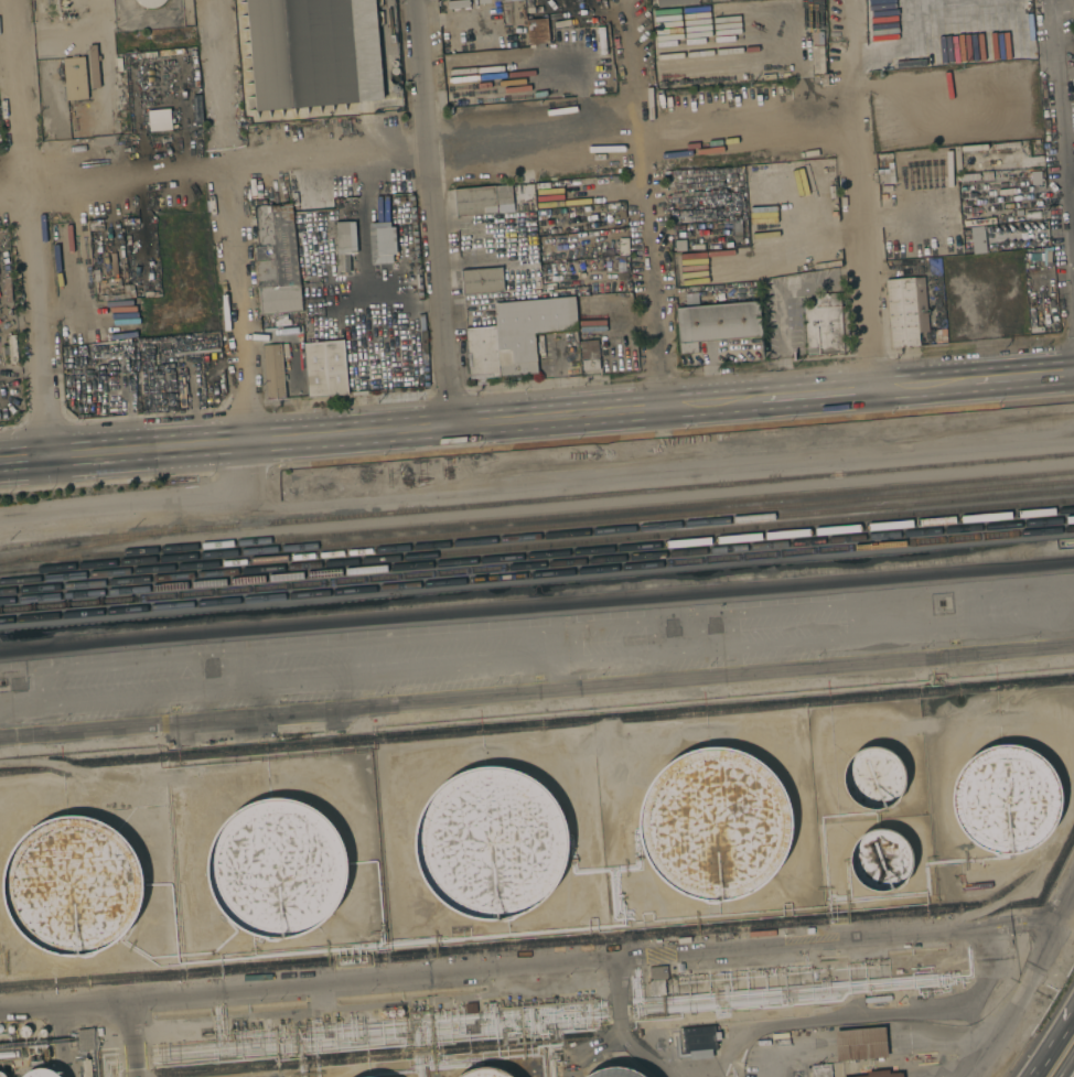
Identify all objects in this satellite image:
building: (150, 3)
building: (535, 9)
building: (1011, 29)
building: (536, 31)
road: (863, 52)
building: (313, 53)
building: (161, 55)
building: (132, 57)
road: (1066, 67)
building: (820, 68)
building: (394, 69)
building: (74, 78)
building: (394, 78)
building: (395, 88)
road: (1063, 111)
building: (160, 120)
road: (429, 149)
building: (969, 151)
building: (1014, 152)
building: (910, 182)
building: (483, 201)
road: (645, 203)
building: (887, 203)
road: (434, 213)
building: (617, 213)
building: (697, 215)
road: (234, 220)
road: (31, 227)
building: (739, 229)
building: (754, 231)
building: (343, 236)
building: (977, 240)
building: (380, 243)
building: (679, 245)
road: (868, 245)
building: (1031, 254)
building: (621, 256)
building: (1048, 258)
building: (277, 260)
building: (96, 274)
building: (482, 281)
road: (385, 291)
building: (906, 310)
building: (716, 323)
building: (825, 325)
building: (523, 334)
building: (12, 348)
building: (110, 349)
building: (589, 355)
building: (324, 364)
building: (275, 370)
road: (1019, 374)
road: (921, 383)
road: (815, 391)
building: (182, 392)
road: (376, 432)
railway: (536, 500)
road: (142, 503)
railway: (536, 518)
railway: (537, 527)
railway: (537, 537)
railway: (86, 546)
railway: (537, 547)
railway: (537, 556)
railway: (537, 564)
railway: (537, 574)
road: (536, 604)
road: (536, 691)
building: (873, 778)
storage tank: (873, 778)
building: (1005, 799)
storage tank: (1005, 799)
building: (713, 825)
storage tank: (713, 825)
building: (491, 843)
storage tank: (491, 843)
building: (880, 860)
storage tank: (880, 860)
building: (277, 869)
storage tank: (277, 869)
building: (72, 886)
storage tank: (72, 886)
building: (809, 930)
building: (762, 934)
road: (836, 943)
building: (915, 946)
building: (898, 971)
road: (375, 980)
building: (657, 980)
road: (1027, 983)
building: (470, 1009)
building: (399, 1012)
storage tank: (399, 1012)
building: (382, 1013)
storage tank: (382, 1013)
building: (390, 1013)
storage tank: (390, 1013)
building: (24, 1031)
storage tank: (24, 1031)
building: (42, 1032)
storage tank: (42, 1032)
building: (8, 1033)
building: (638, 1033)
road: (130, 1037)
building: (85, 1040)
building: (700, 1042)
building: (860, 1044)
road: (1054, 1044)
road: (1066, 1066)
building: (86, 1068)
building: (820, 1070)
building: (41, 1073)
storage tank: (41, 1073)
building: (484, 1073)
storage tank: (484, 1073)
building: (614, 1073)
storage tank: (614, 1073)
building: (882, 1074)
building: (1, 1075)
storage tank: (1, 1075)

